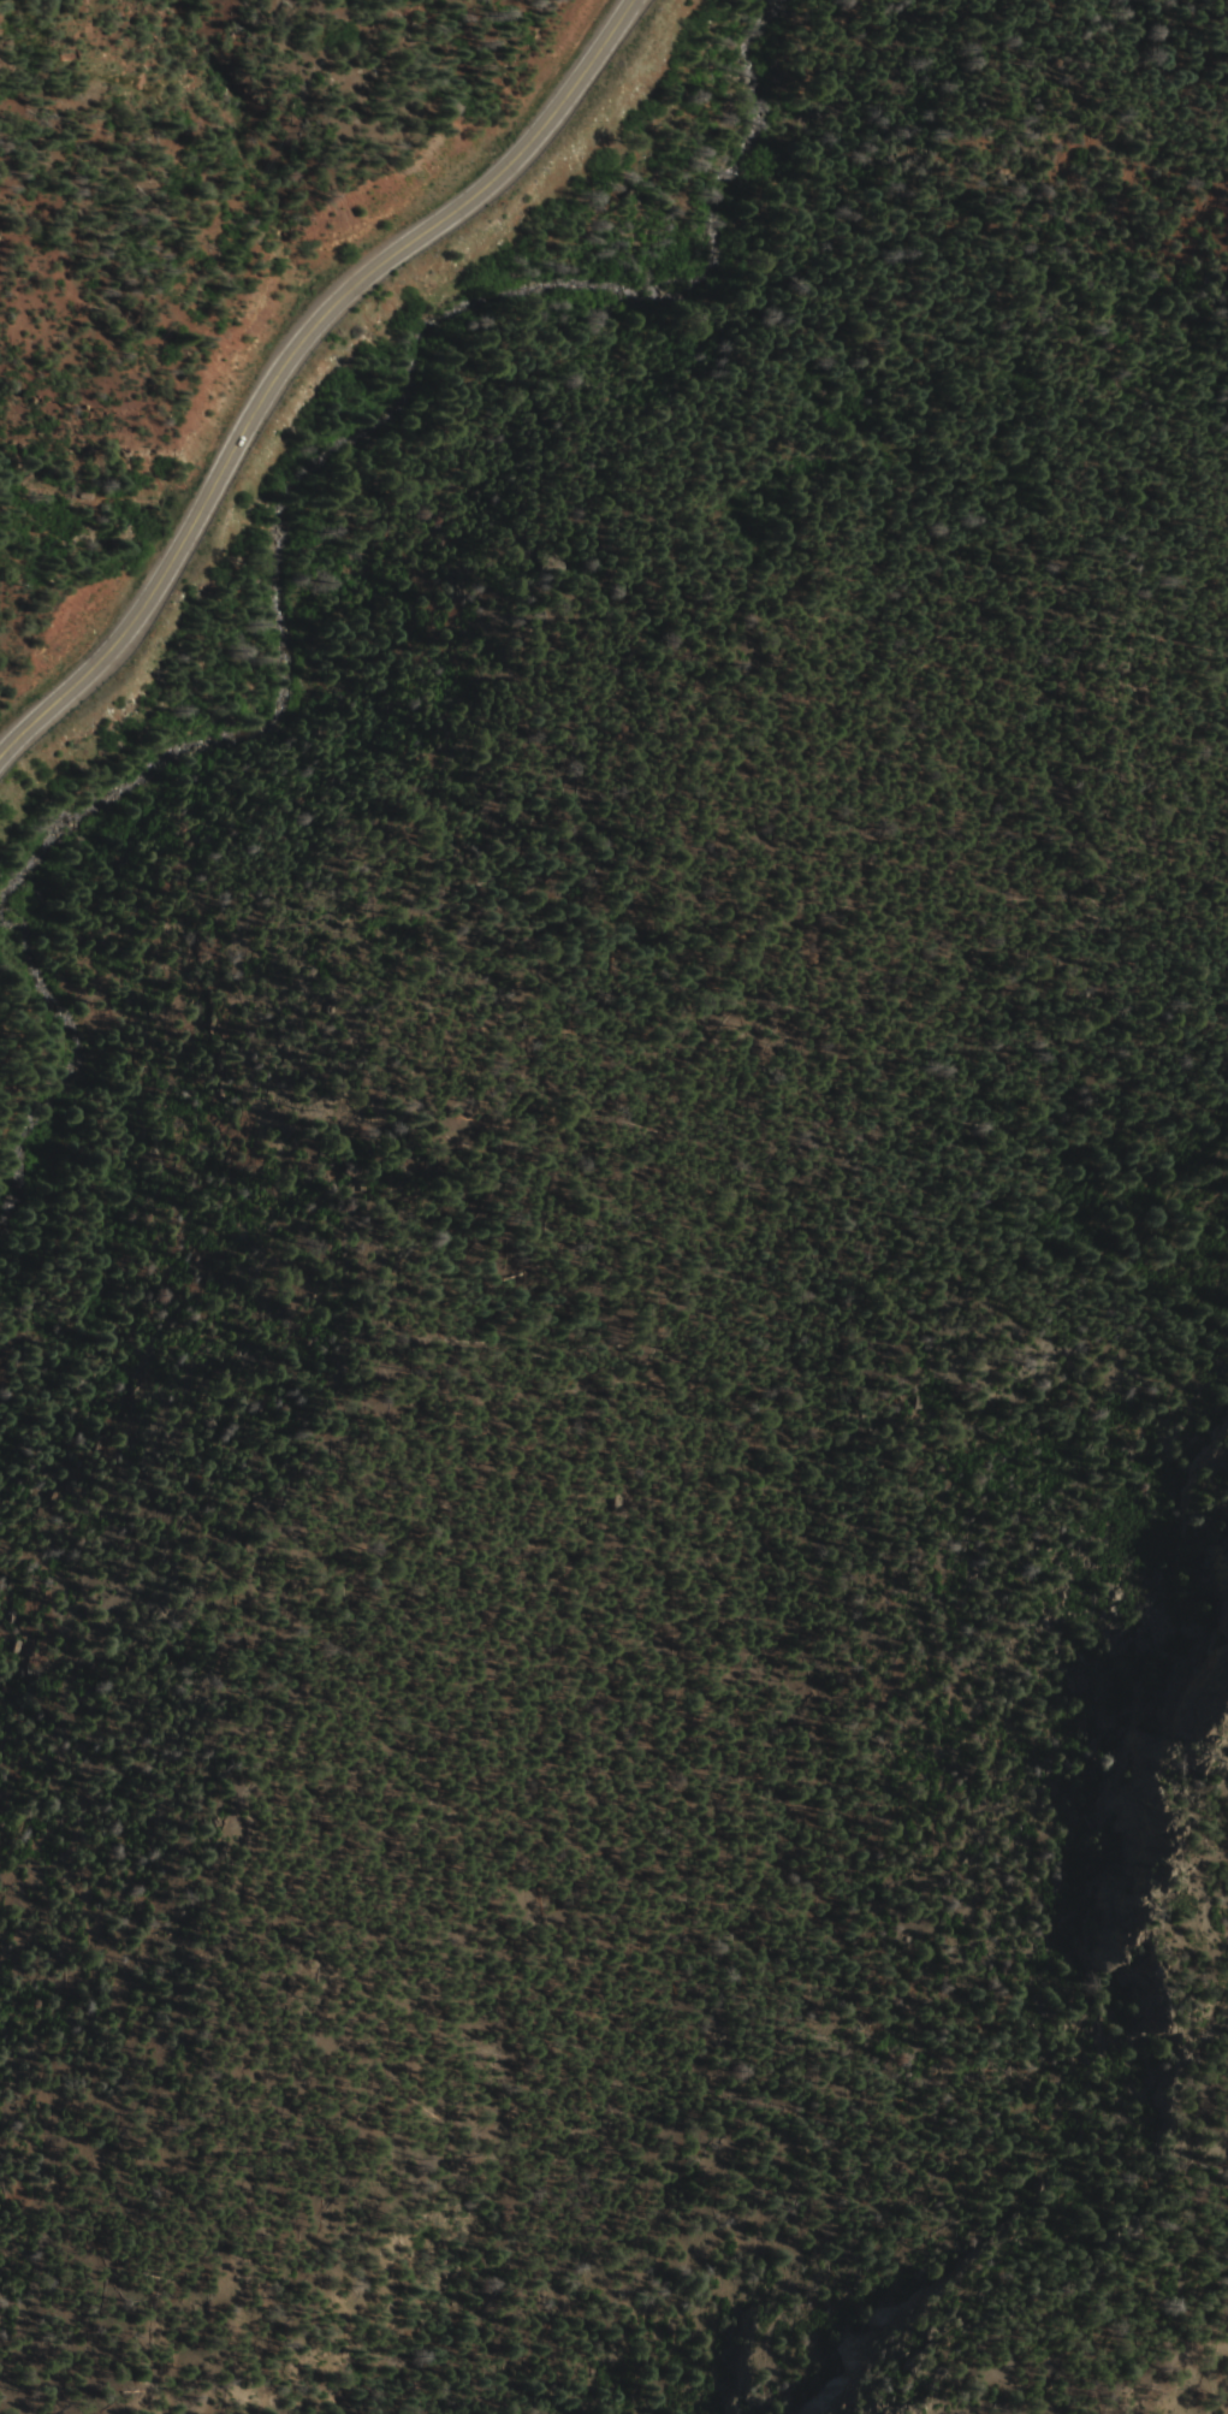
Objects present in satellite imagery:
road: (286, 353)

